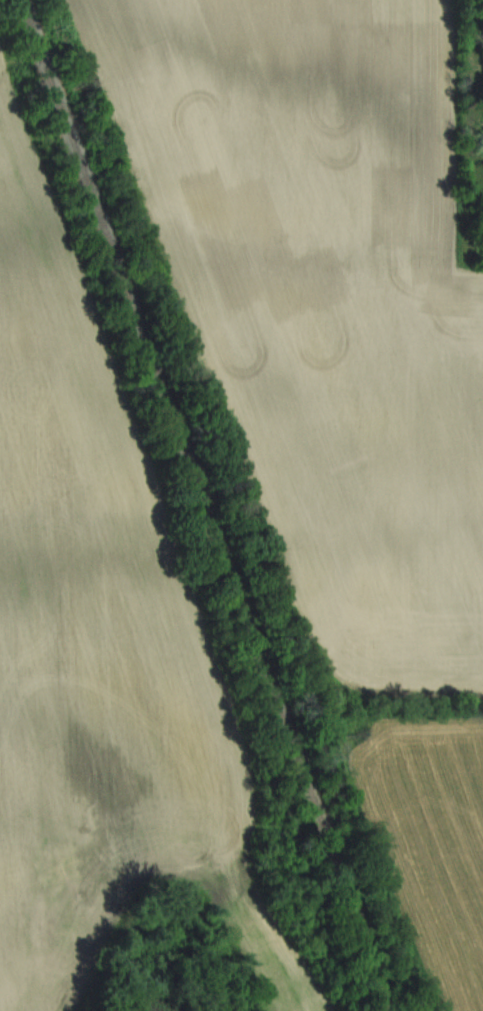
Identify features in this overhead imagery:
railway: (222, 505)

